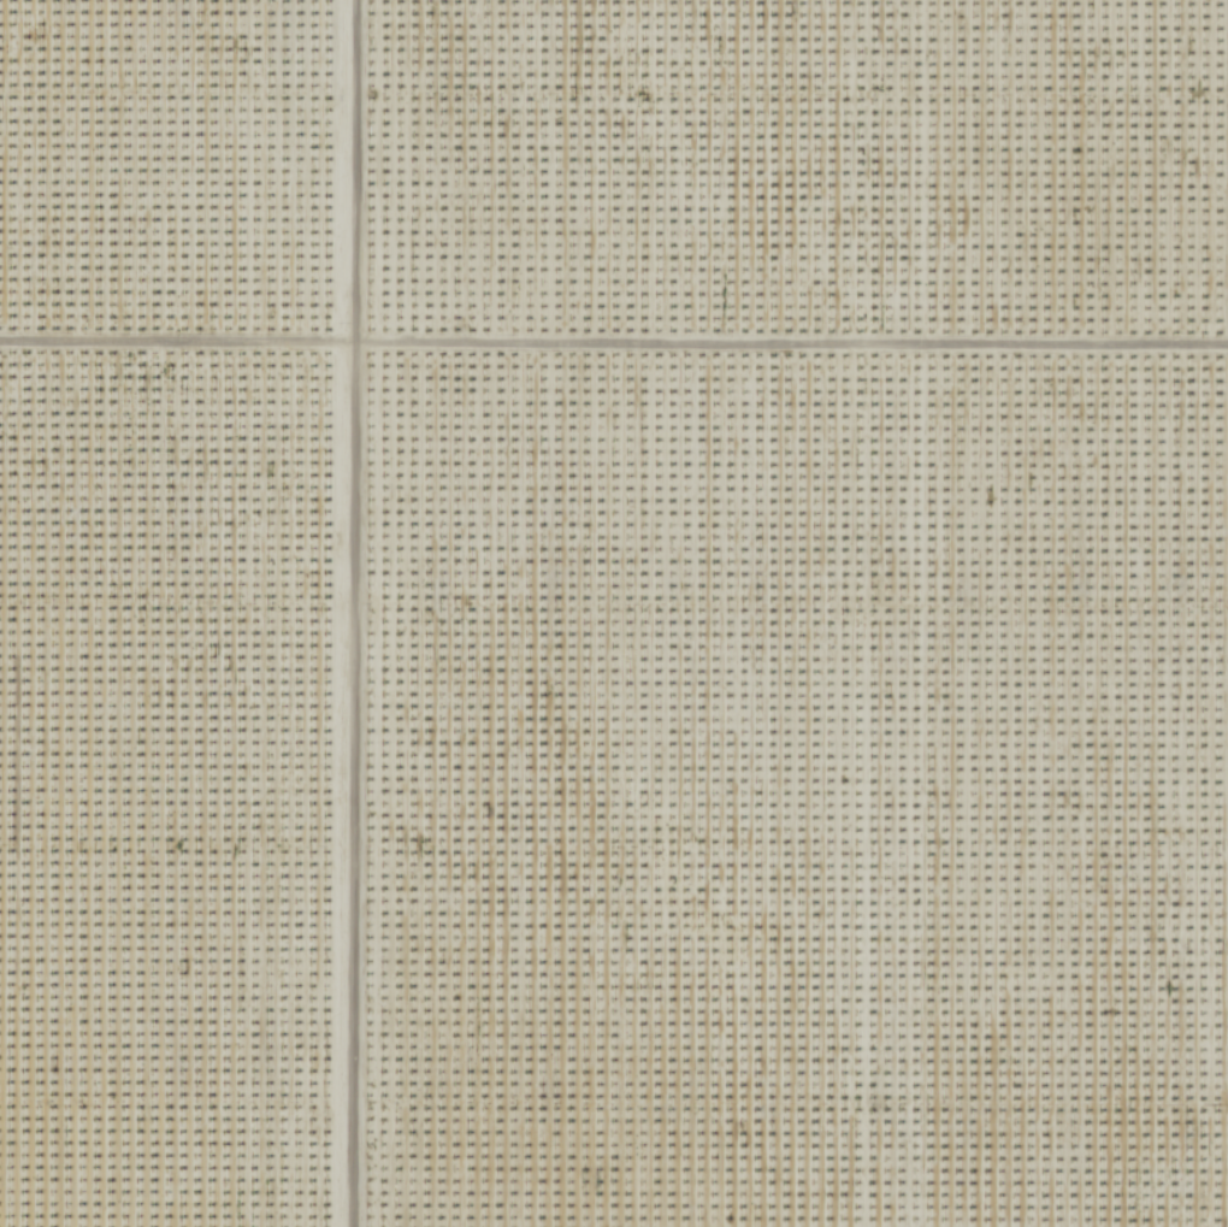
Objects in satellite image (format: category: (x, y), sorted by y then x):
road: (614, 349)
road: (342, 613)

